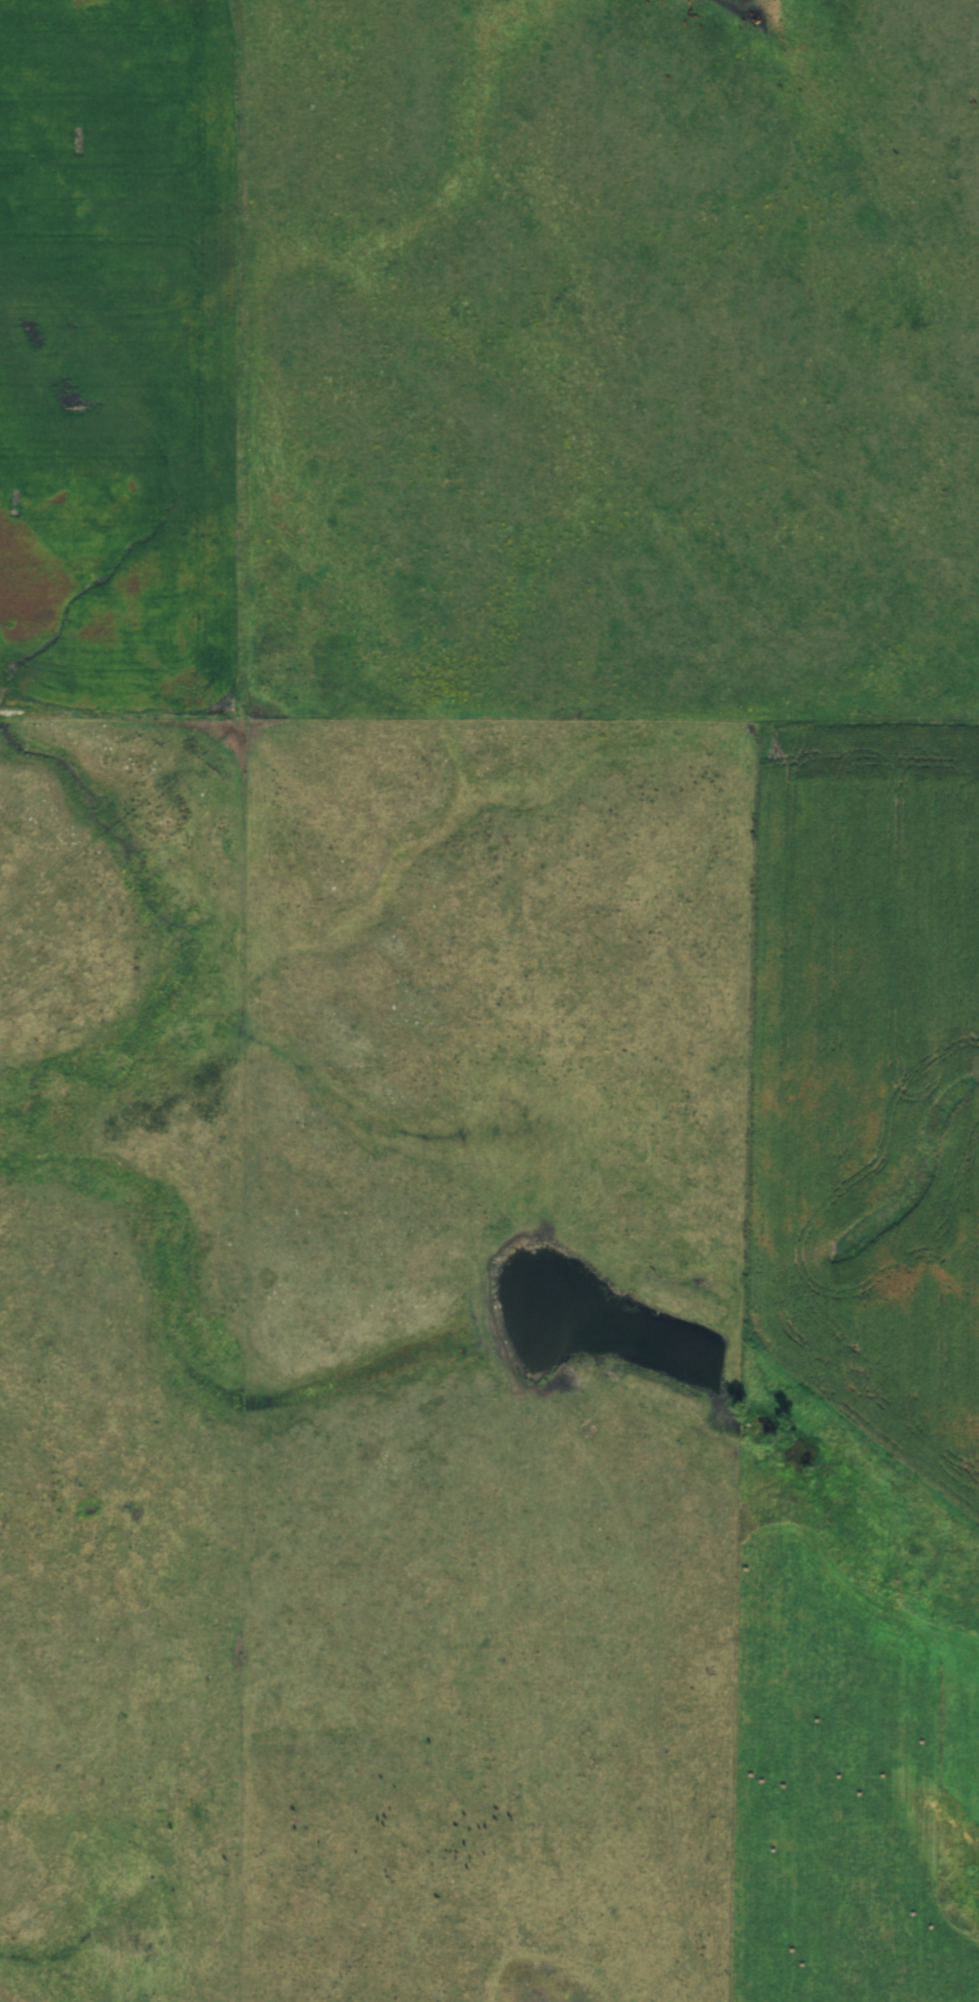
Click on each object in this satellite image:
road: (978, 2000)

